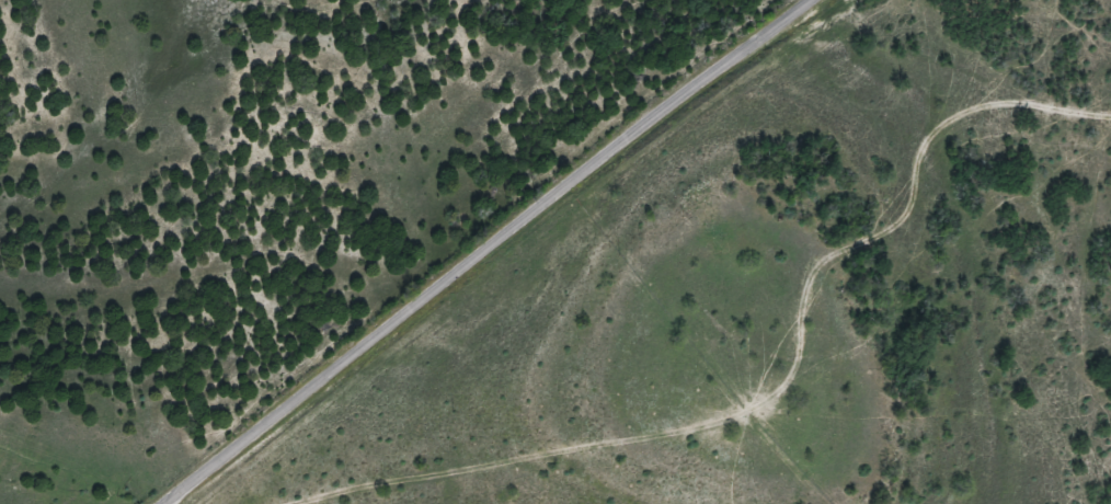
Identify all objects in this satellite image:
road: (509, 252)
road: (724, 379)

